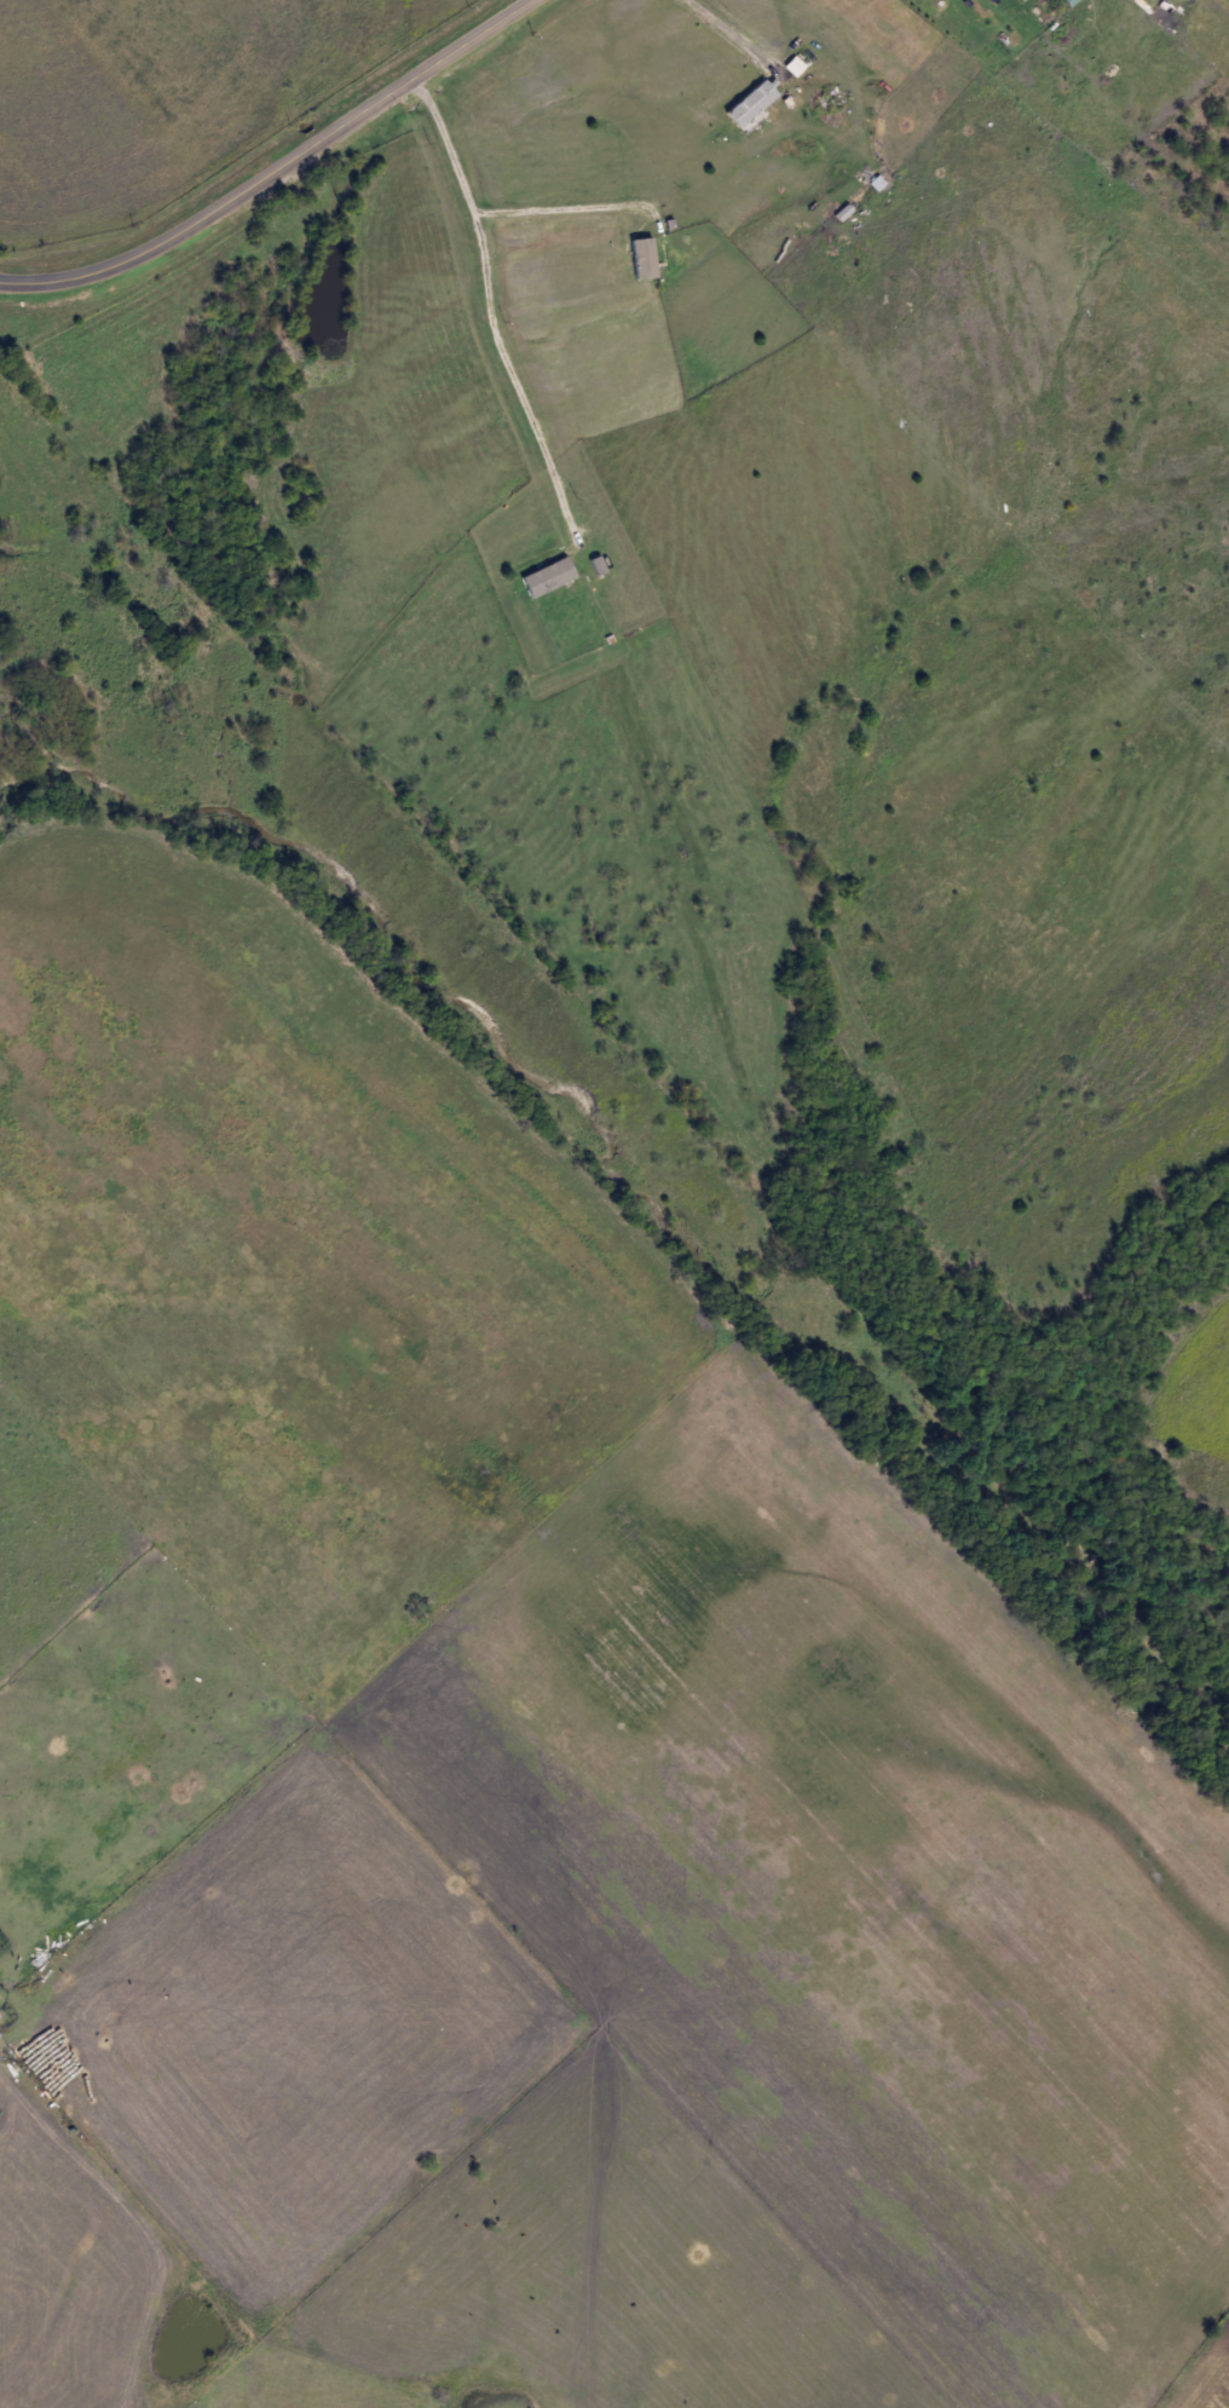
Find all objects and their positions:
building: (1020, 0)
road: (722, 35)
building: (750, 104)
road: (276, 167)
road: (575, 207)
building: (642, 258)
road: (495, 300)
building: (595, 565)
building: (547, 577)

